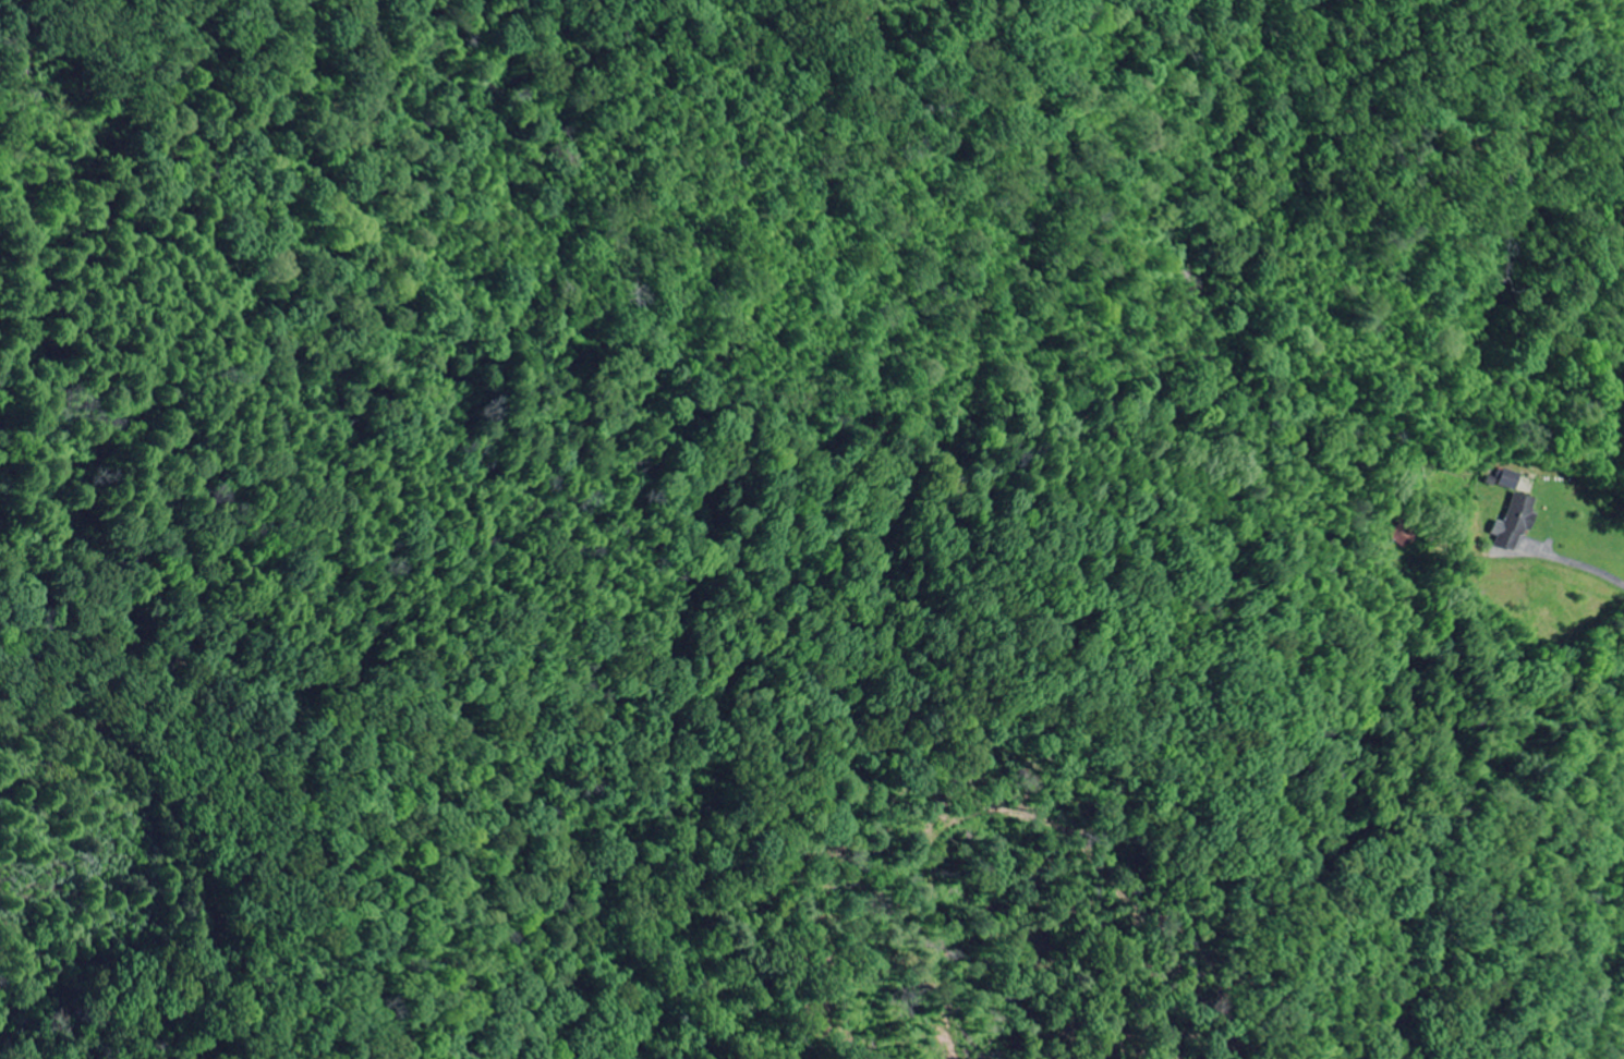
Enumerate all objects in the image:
building: (1515, 524)
road: (1586, 565)

